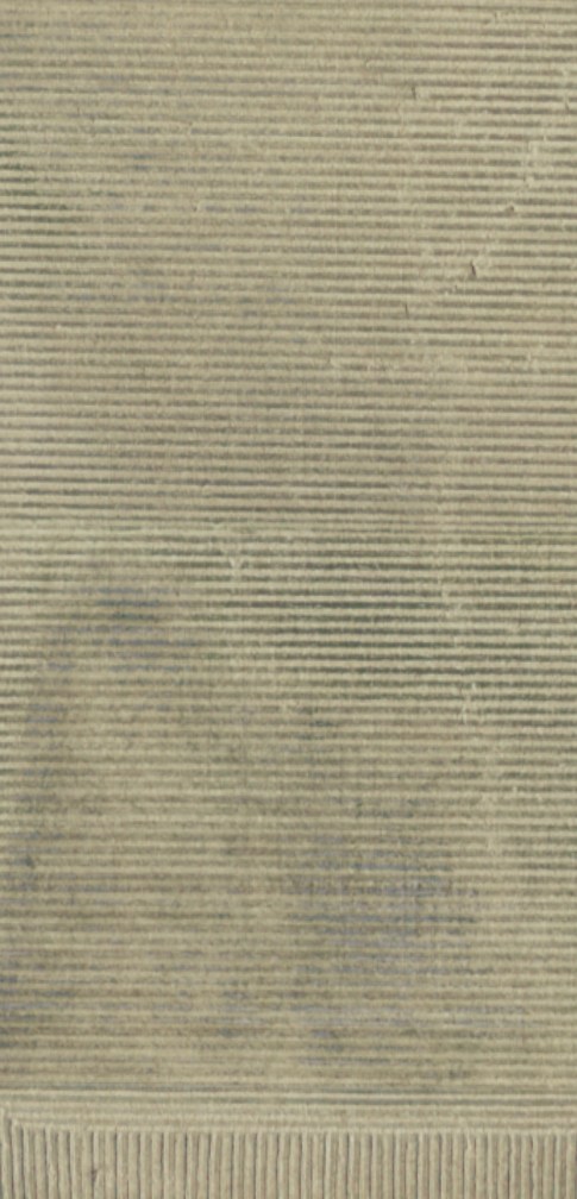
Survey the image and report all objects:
crop: (288, 599)

